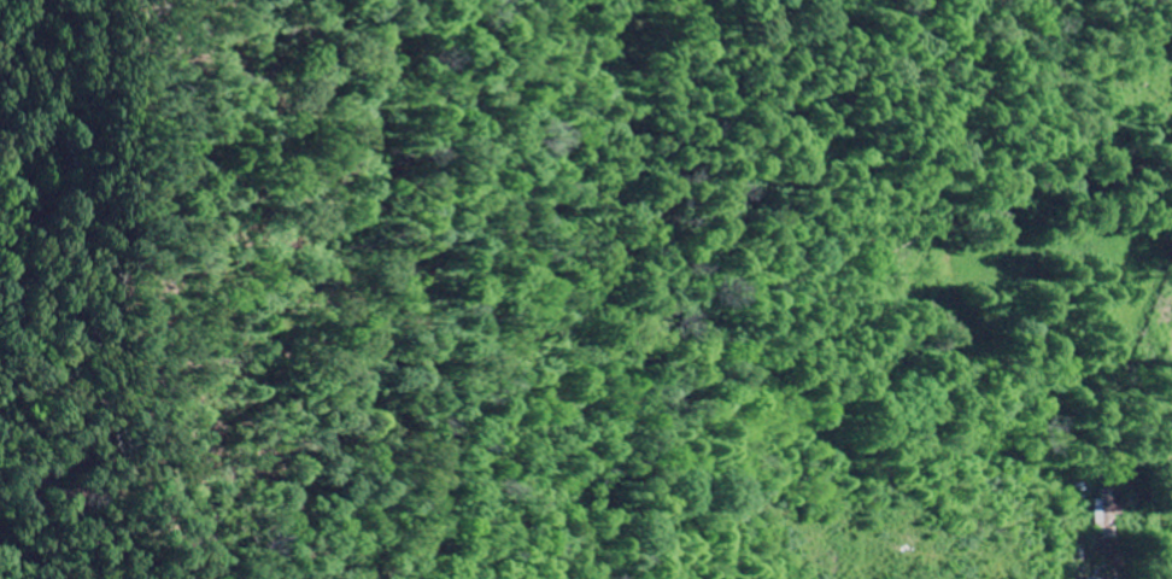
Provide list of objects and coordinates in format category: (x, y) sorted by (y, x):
building: (1101, 514)

